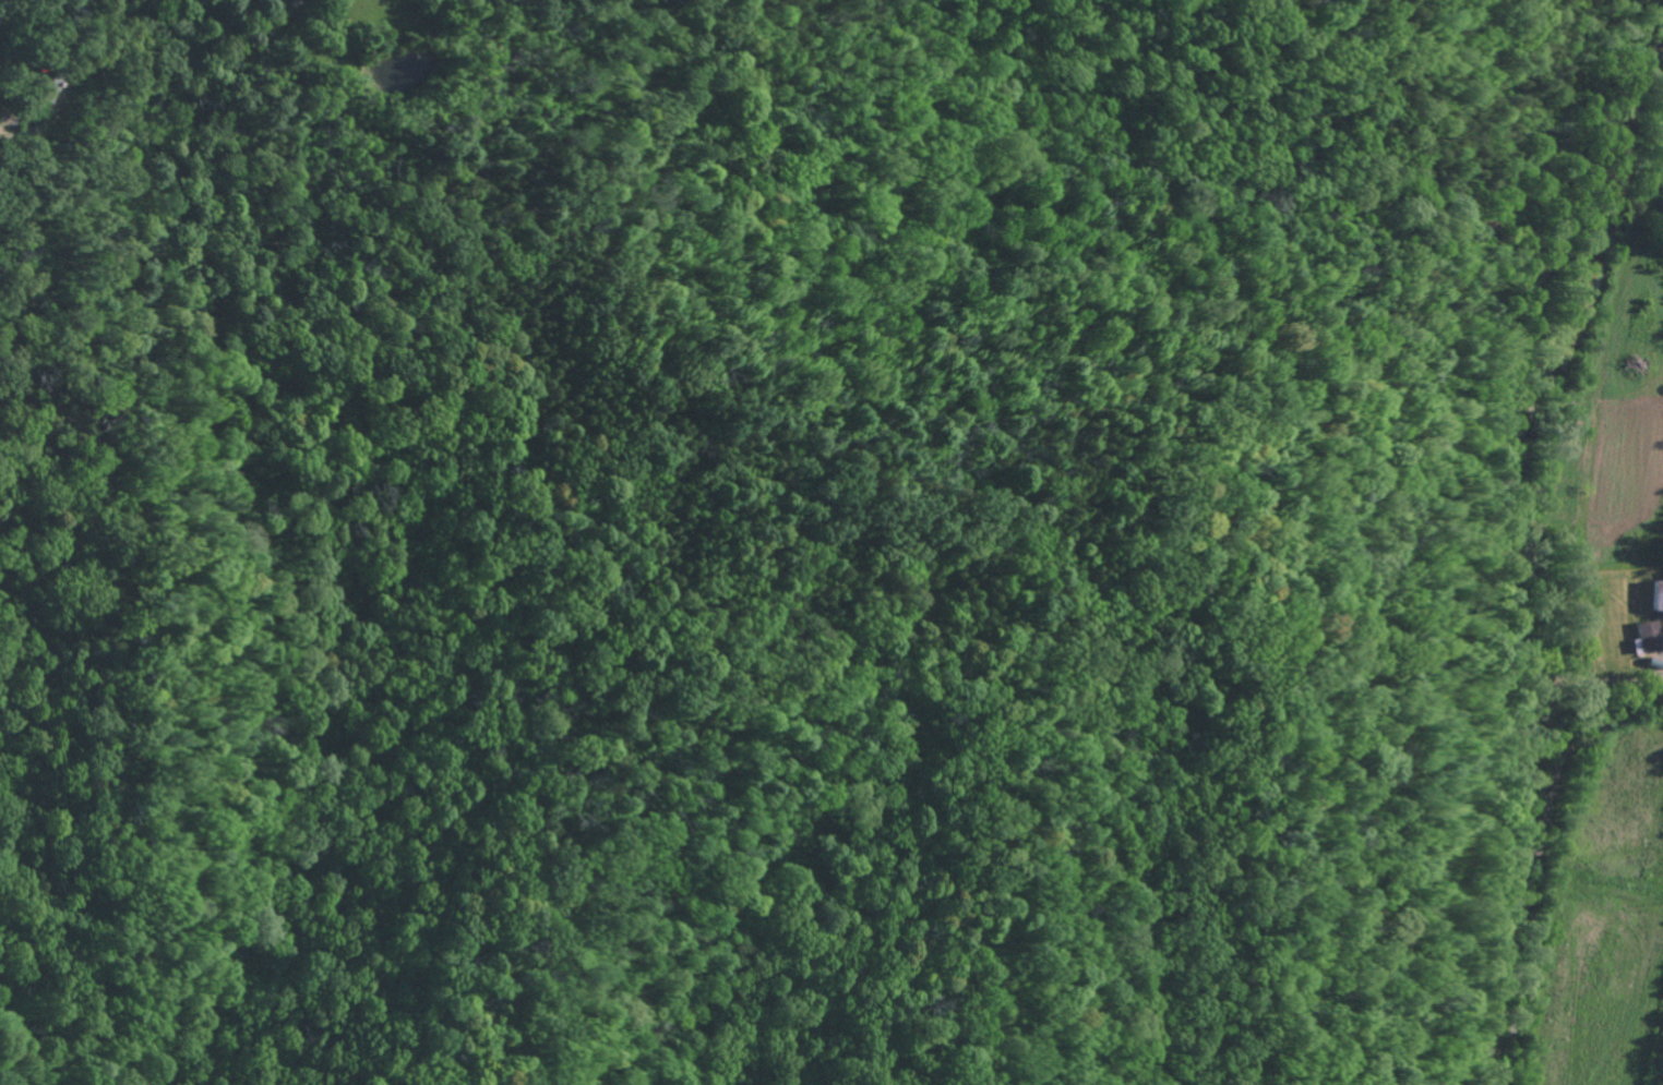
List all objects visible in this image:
building: (1655, 595)
road: (1524, 915)

